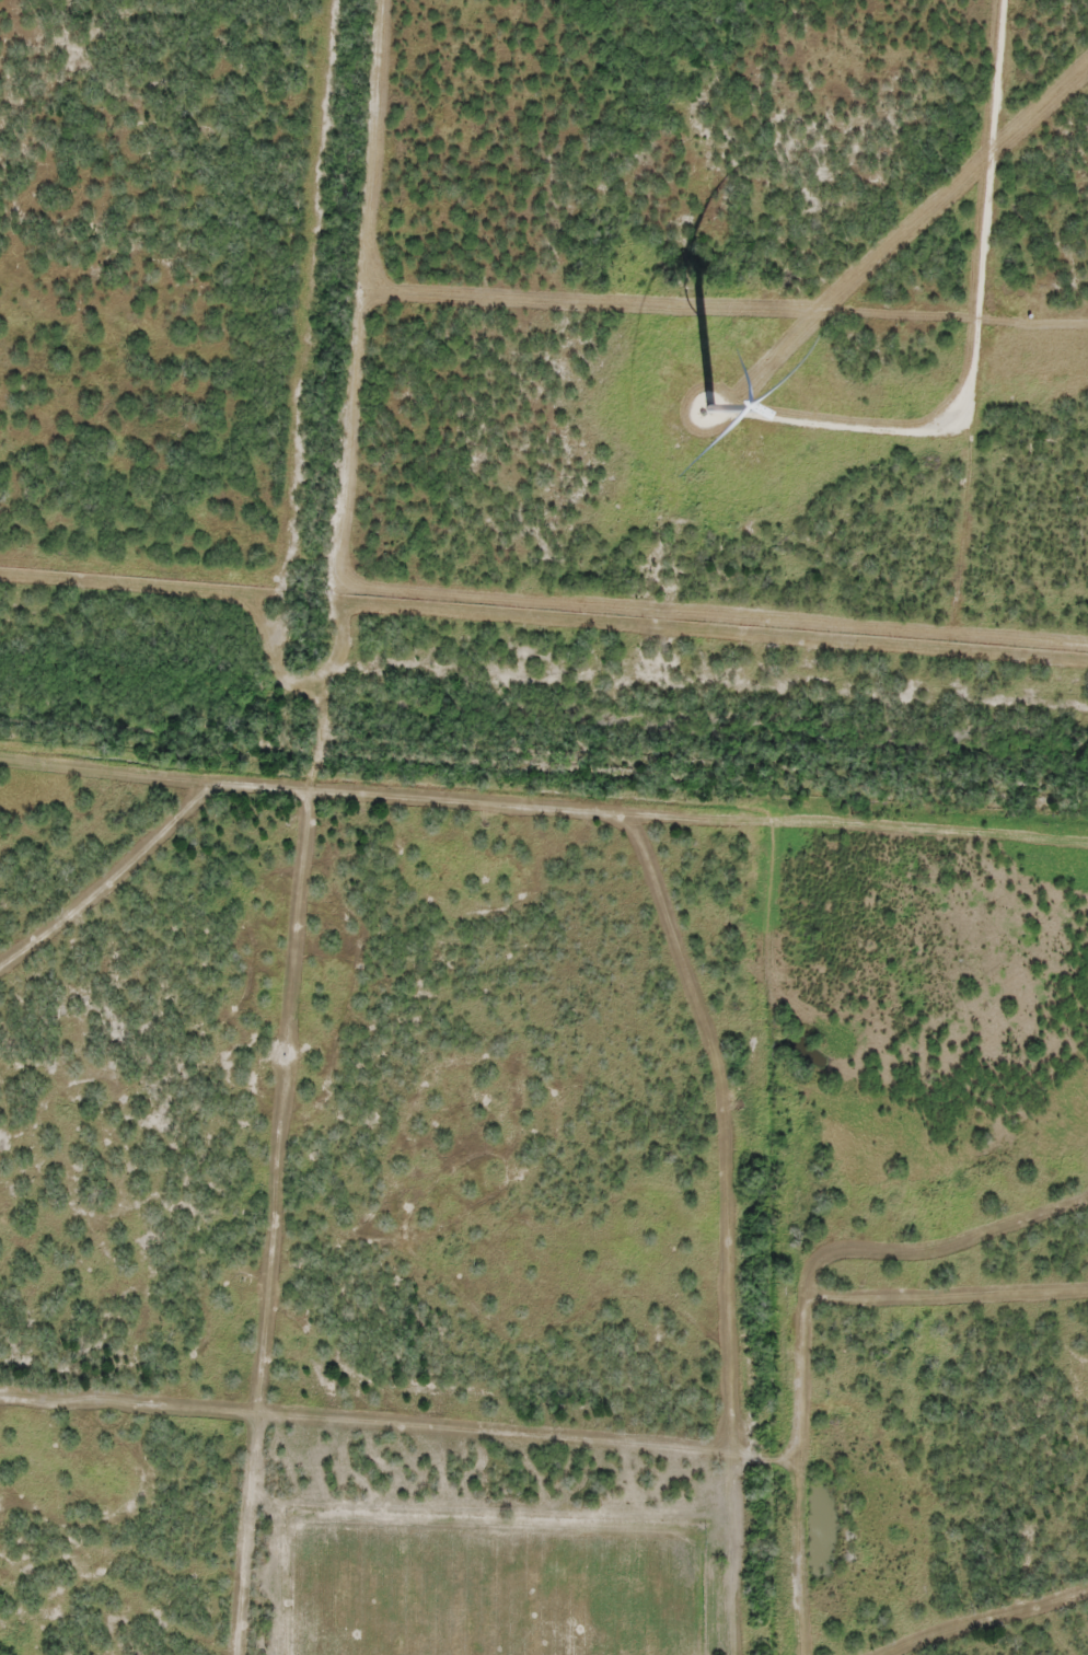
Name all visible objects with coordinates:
wind turbine: (711, 412)
road: (409, 614)

